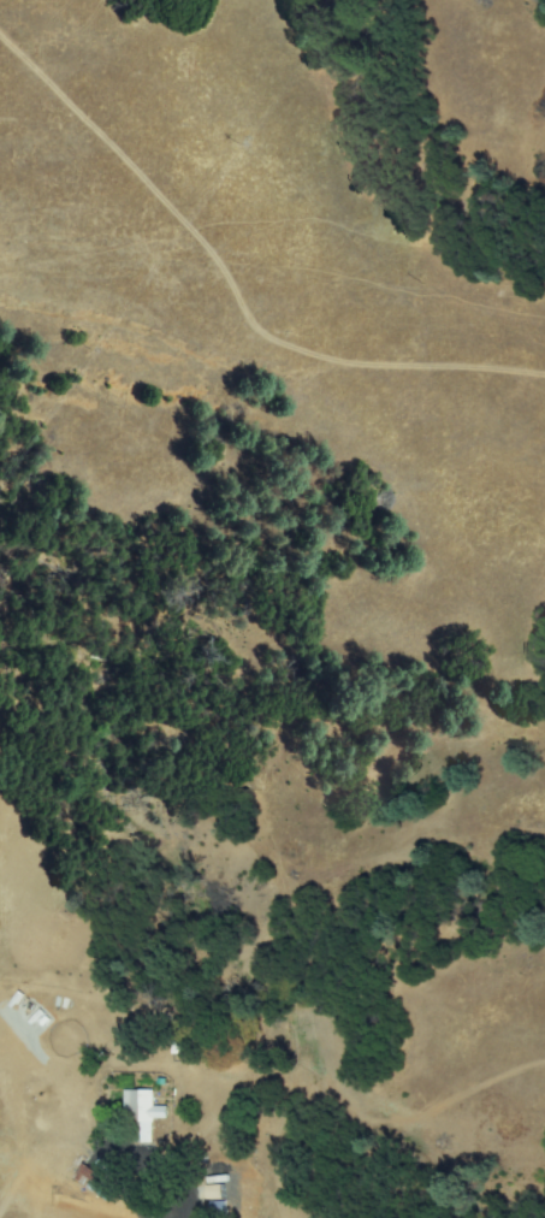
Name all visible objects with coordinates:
building: (183, 1048)
building: (144, 1113)
building: (90, 1179)
road: (149, 1188)

